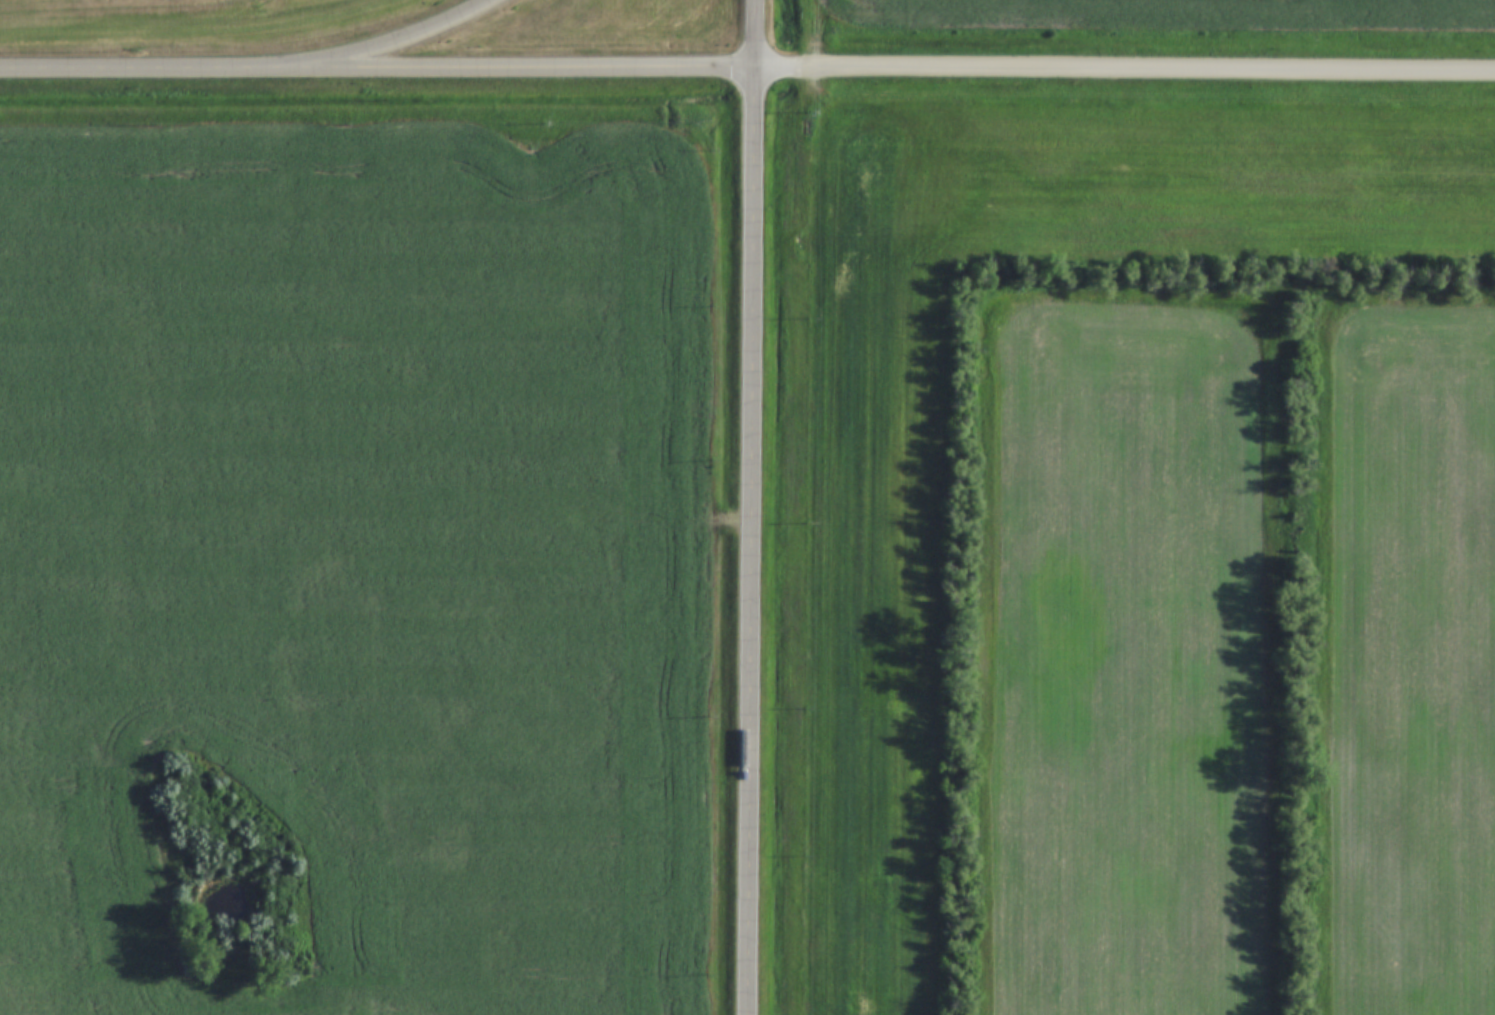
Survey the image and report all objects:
road: (387, 47)
road: (1126, 70)
road: (515, 72)
road: (136, 73)
road: (756, 507)

